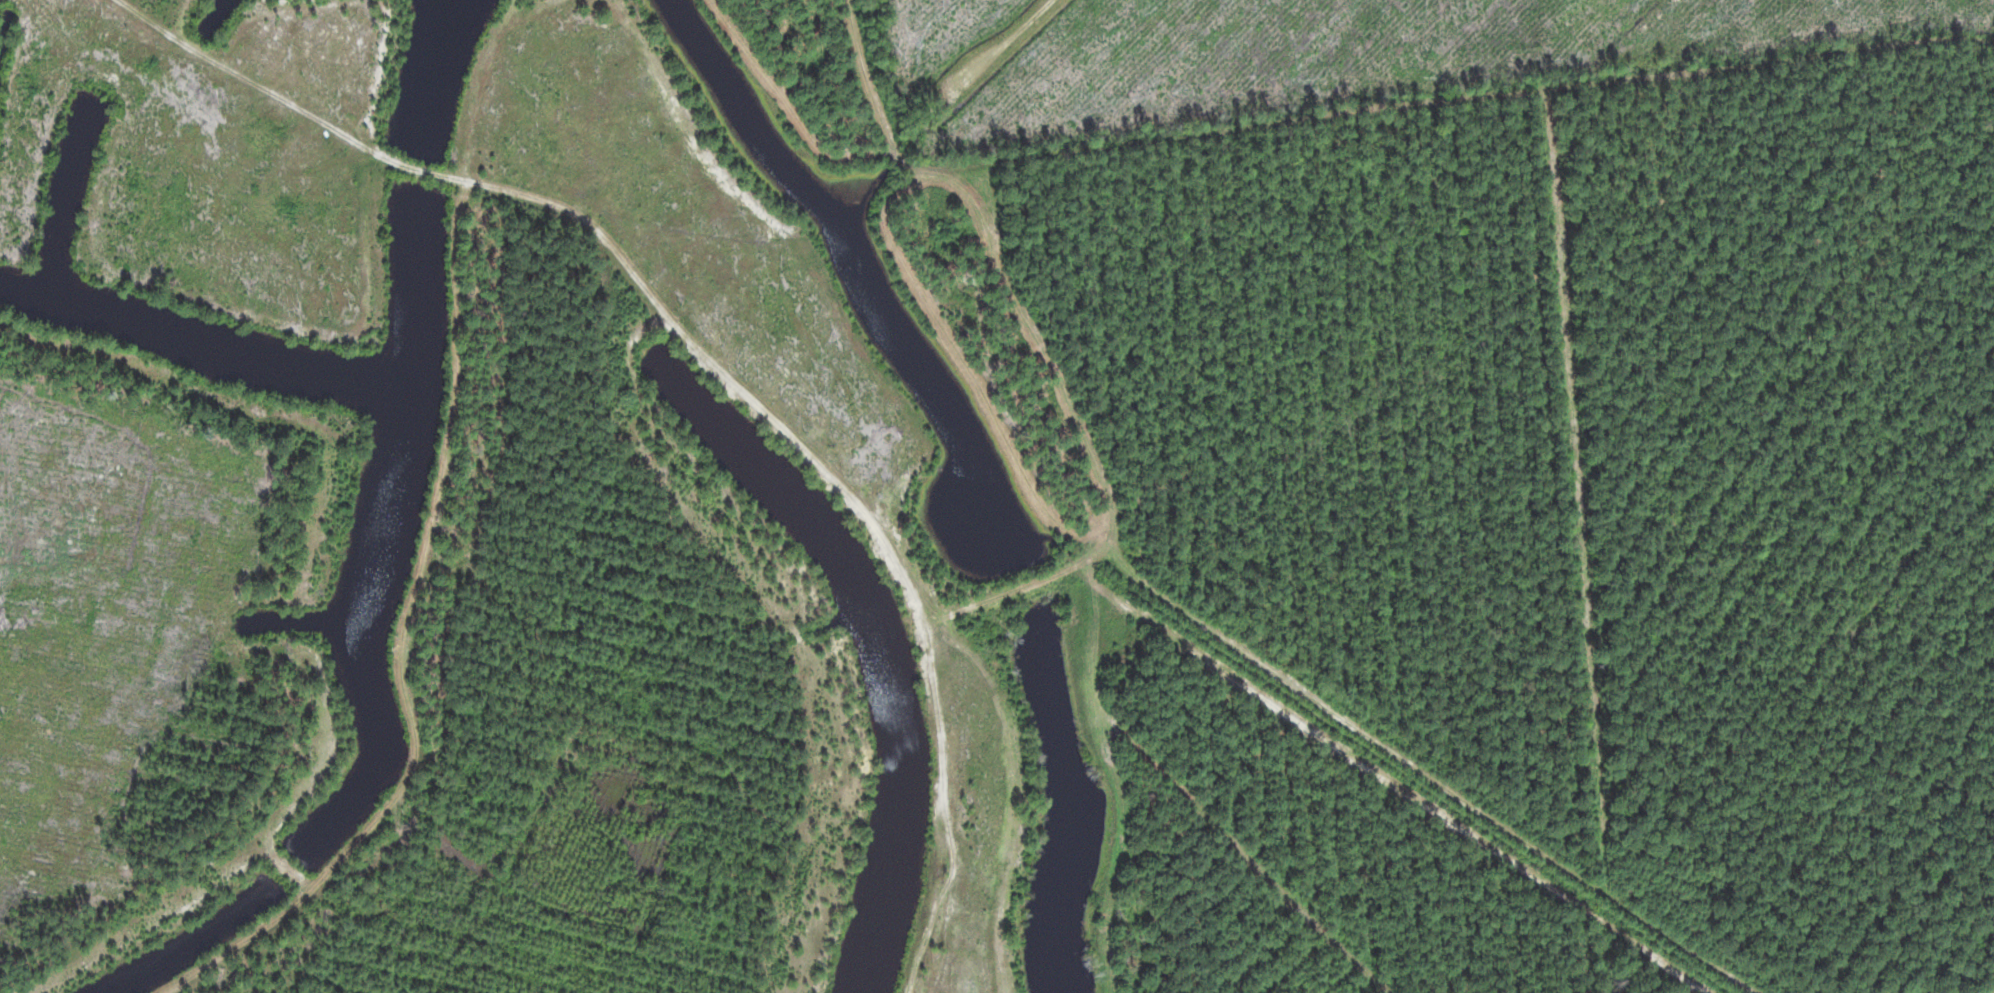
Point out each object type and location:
road: (995, 51)

